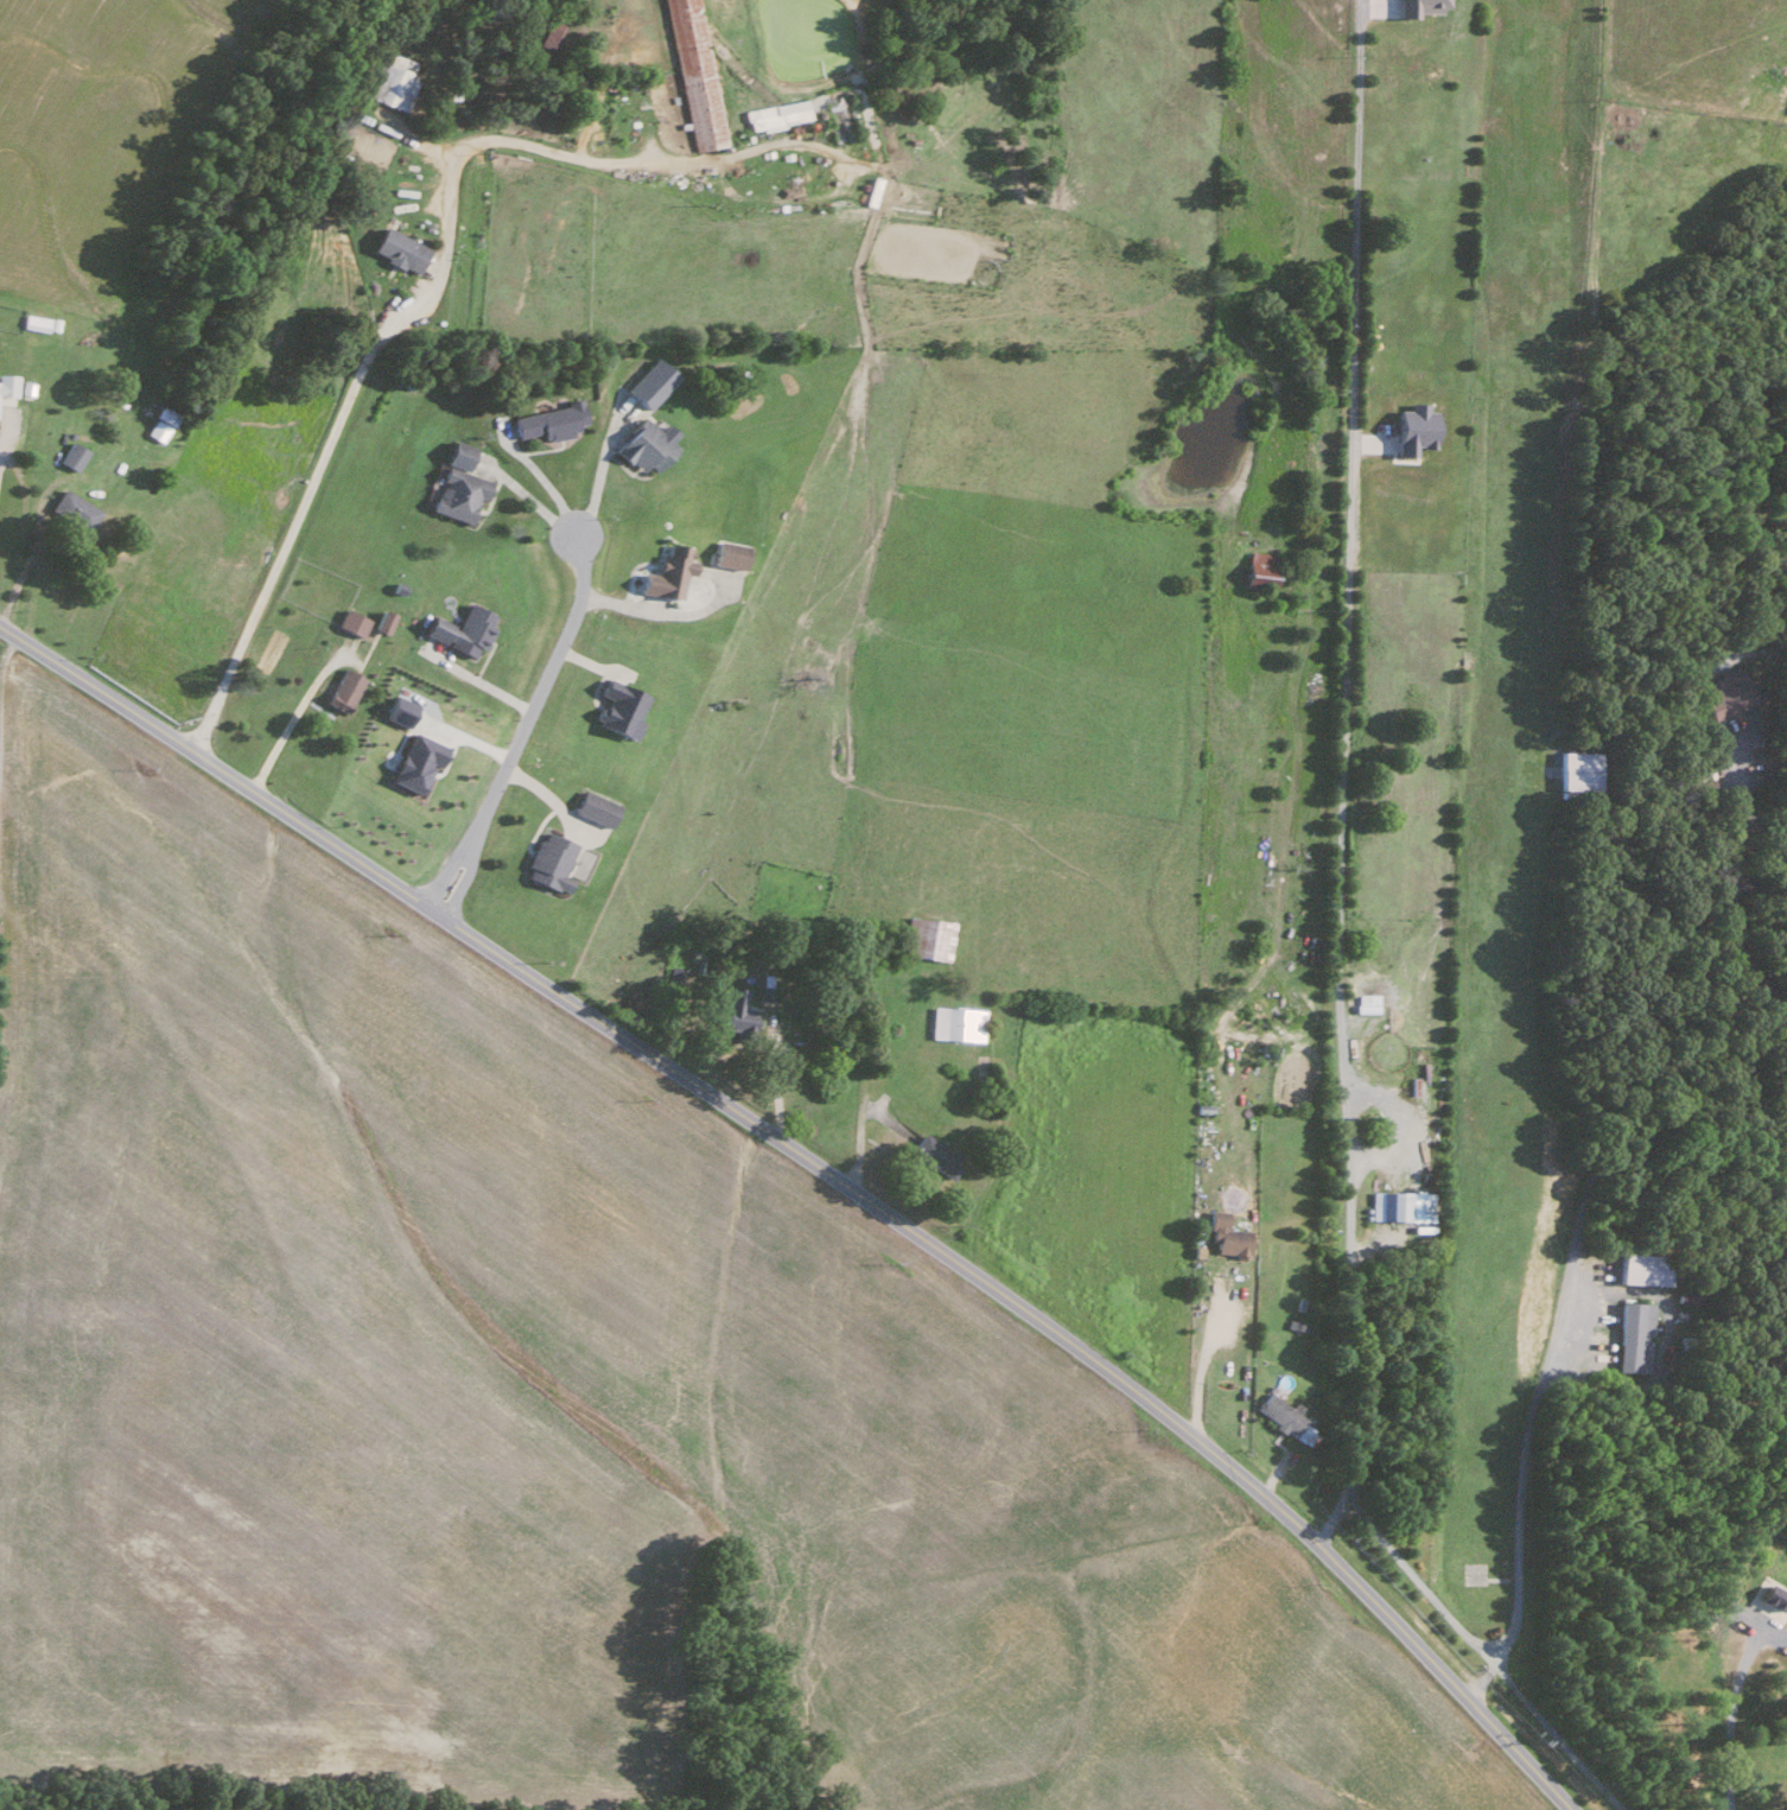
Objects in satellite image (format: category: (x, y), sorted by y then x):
building: (1417, 6)
building: (552, 30)
building: (693, 72)
building: (393, 80)
building: (776, 113)
building: (398, 248)
road: (424, 294)
building: (34, 322)
building: (649, 382)
building: (6, 387)
building: (547, 420)
building: (160, 421)
road: (2, 436)
building: (644, 445)
building: (457, 453)
building: (71, 455)
building: (457, 493)
building: (72, 508)
building: (727, 553)
building: (1259, 569)
road: (23, 570)
building: (666, 572)
building: (382, 621)
building: (351, 622)
building: (462, 629)
road: (477, 681)
building: (343, 690)
building: (1725, 693)
building: (399, 709)
building: (618, 709)
road: (288, 720)
road: (522, 725)
road: (1713, 730)
building: (415, 761)
building: (1577, 769)
road: (1342, 779)
airport runway: (1506, 786)
building: (593, 807)
road: (1762, 831)
building: (548, 860)
road: (1757, 870)
building: (926, 938)
road: (1738, 944)
building: (764, 986)
building: (736, 1010)
building: (955, 1023)
building: (934, 1154)
road: (823, 1170)
building: (1399, 1205)
building: (1226, 1236)
building: (1641, 1268)
road: (1565, 1297)
road: (1208, 1319)
building: (1634, 1335)
building: (1285, 1420)
road: (1734, 1717)

